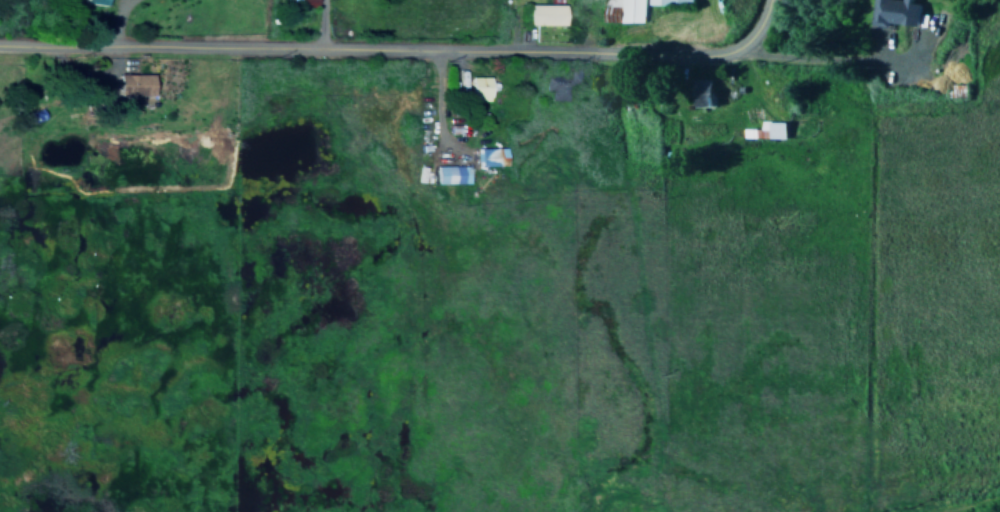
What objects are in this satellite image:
building: (93, 2)
building: (672, 2)
building: (621, 11)
building: (894, 12)
building: (545, 15)
road: (112, 22)
road: (755, 24)
road: (371, 47)
road: (809, 58)
building: (556, 85)
building: (133, 86)
building: (479, 90)
building: (704, 93)
building: (767, 131)
building: (490, 158)
building: (450, 176)

